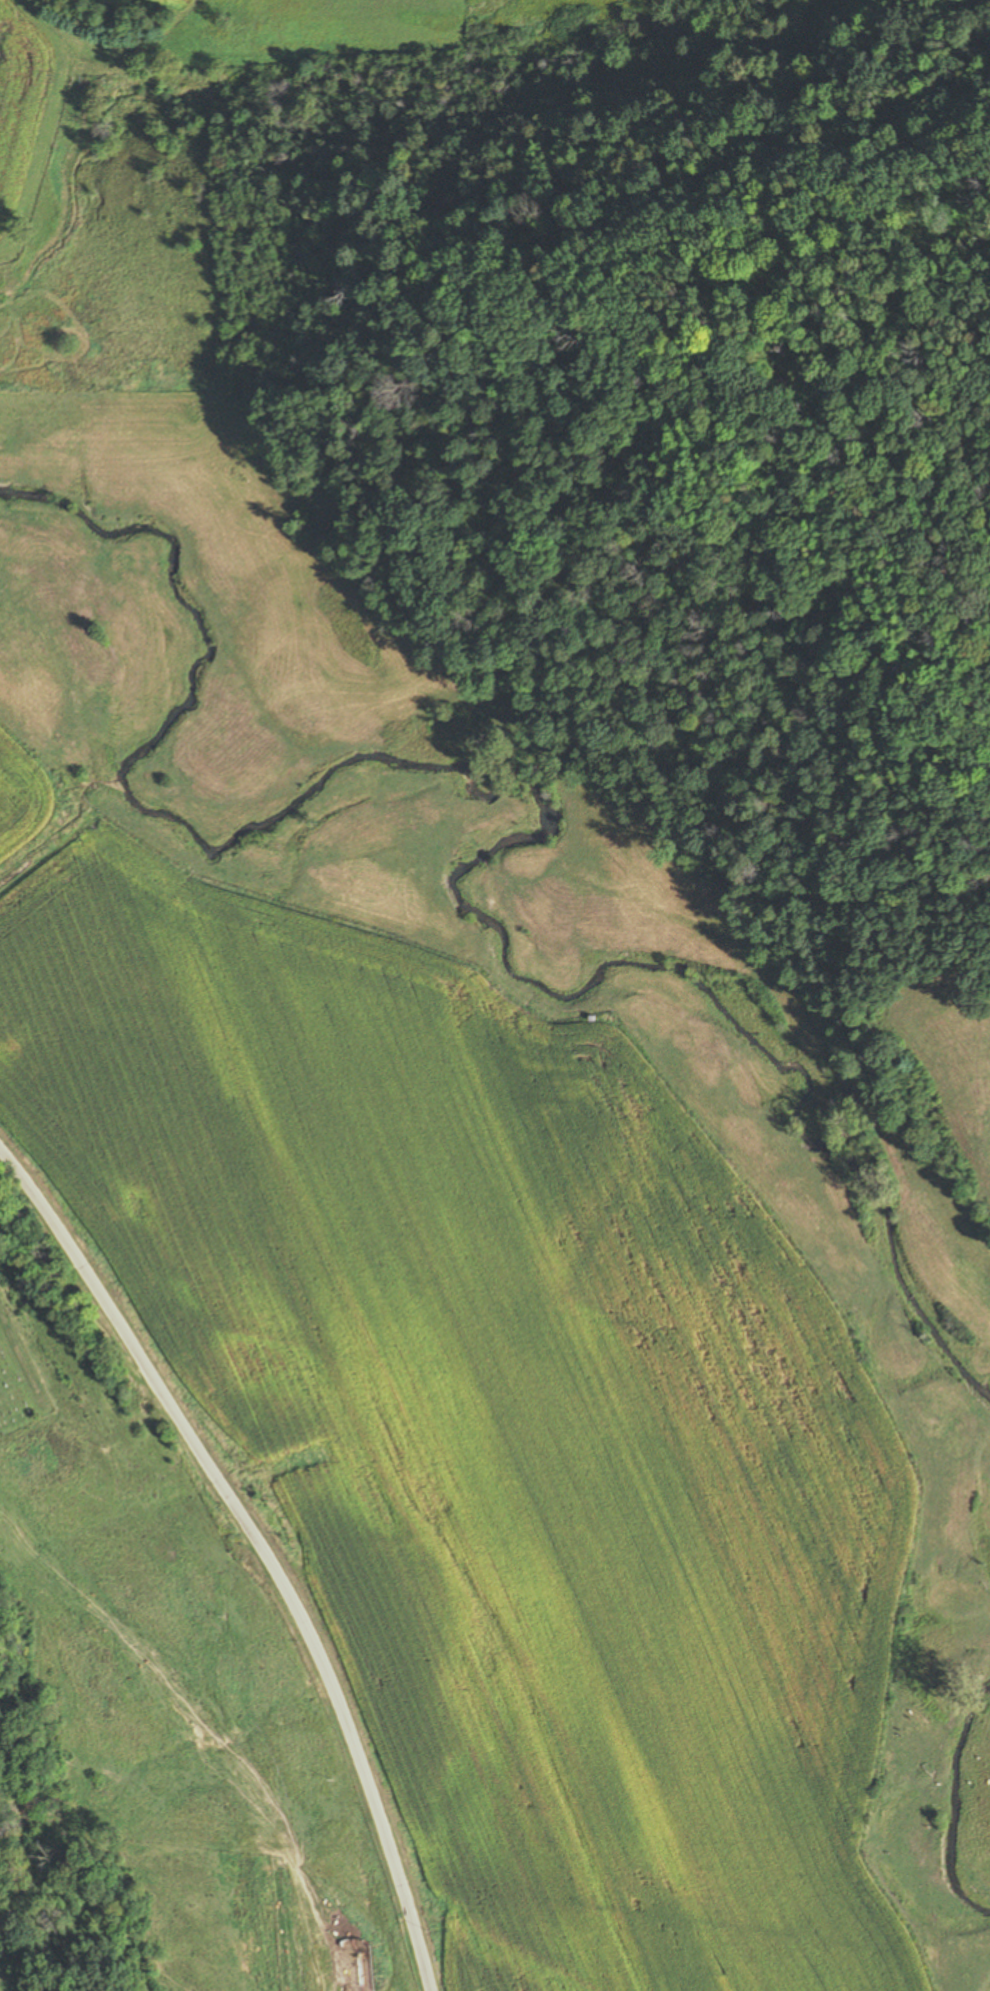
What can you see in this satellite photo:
park: (18, 1378)
road: (260, 1546)

